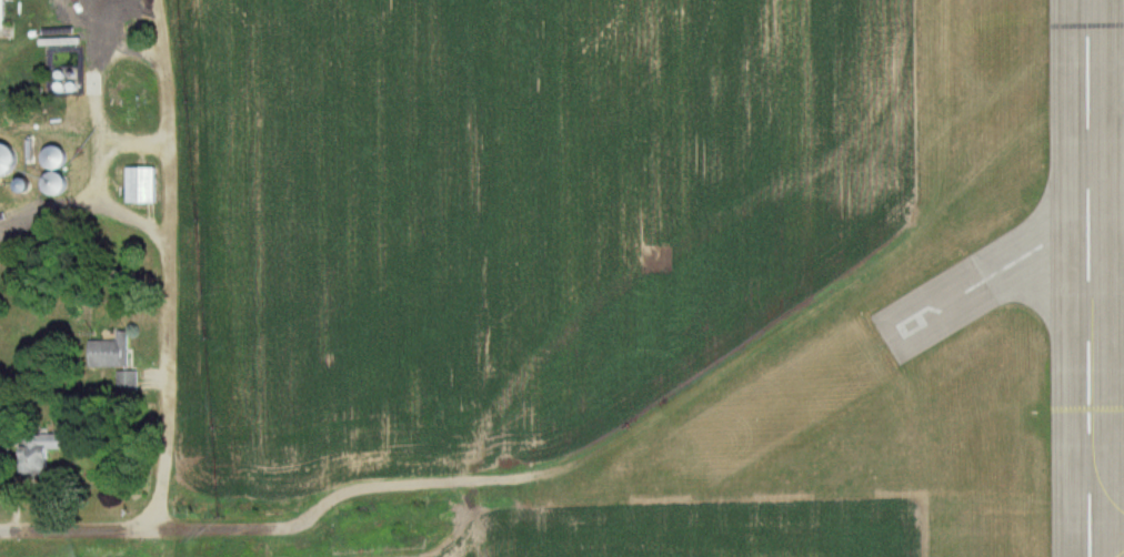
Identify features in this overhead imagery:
building: (3, 14)
building: (60, 159)
building: (60, 185)
building: (143, 191)
road: (84, 202)
crop: (509, 211)
road: (168, 265)
airport runway: (1005, 269)
airport runway: (1093, 277)
building: (110, 354)
building: (127, 382)
building: (42, 452)
airport taxiway: (1105, 490)
road: (233, 530)
airport taxiway: (1122, 555)

